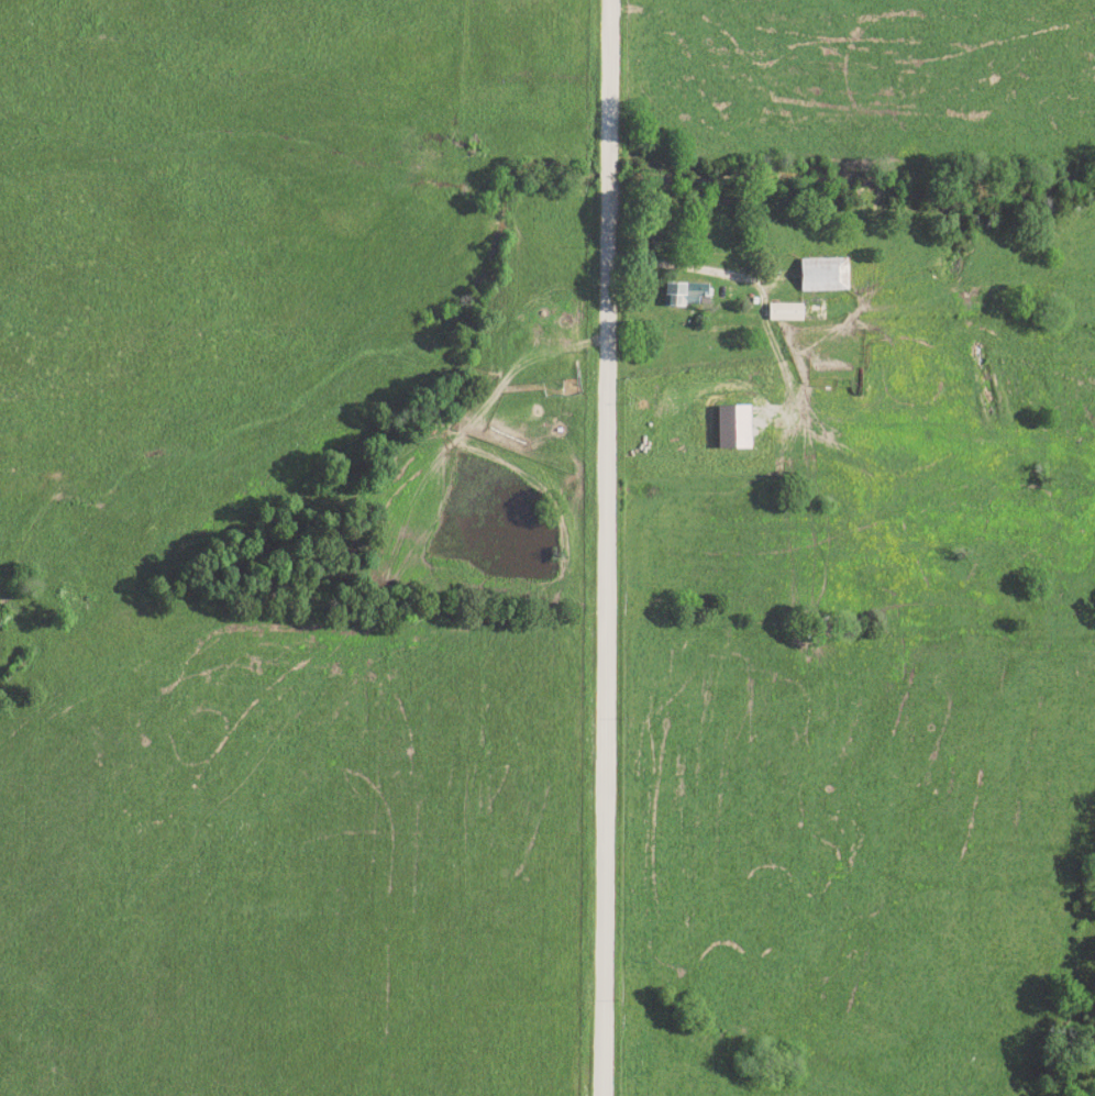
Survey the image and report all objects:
road: (697, 273)
building: (823, 275)
building: (785, 311)
building: (732, 427)
road: (600, 547)

